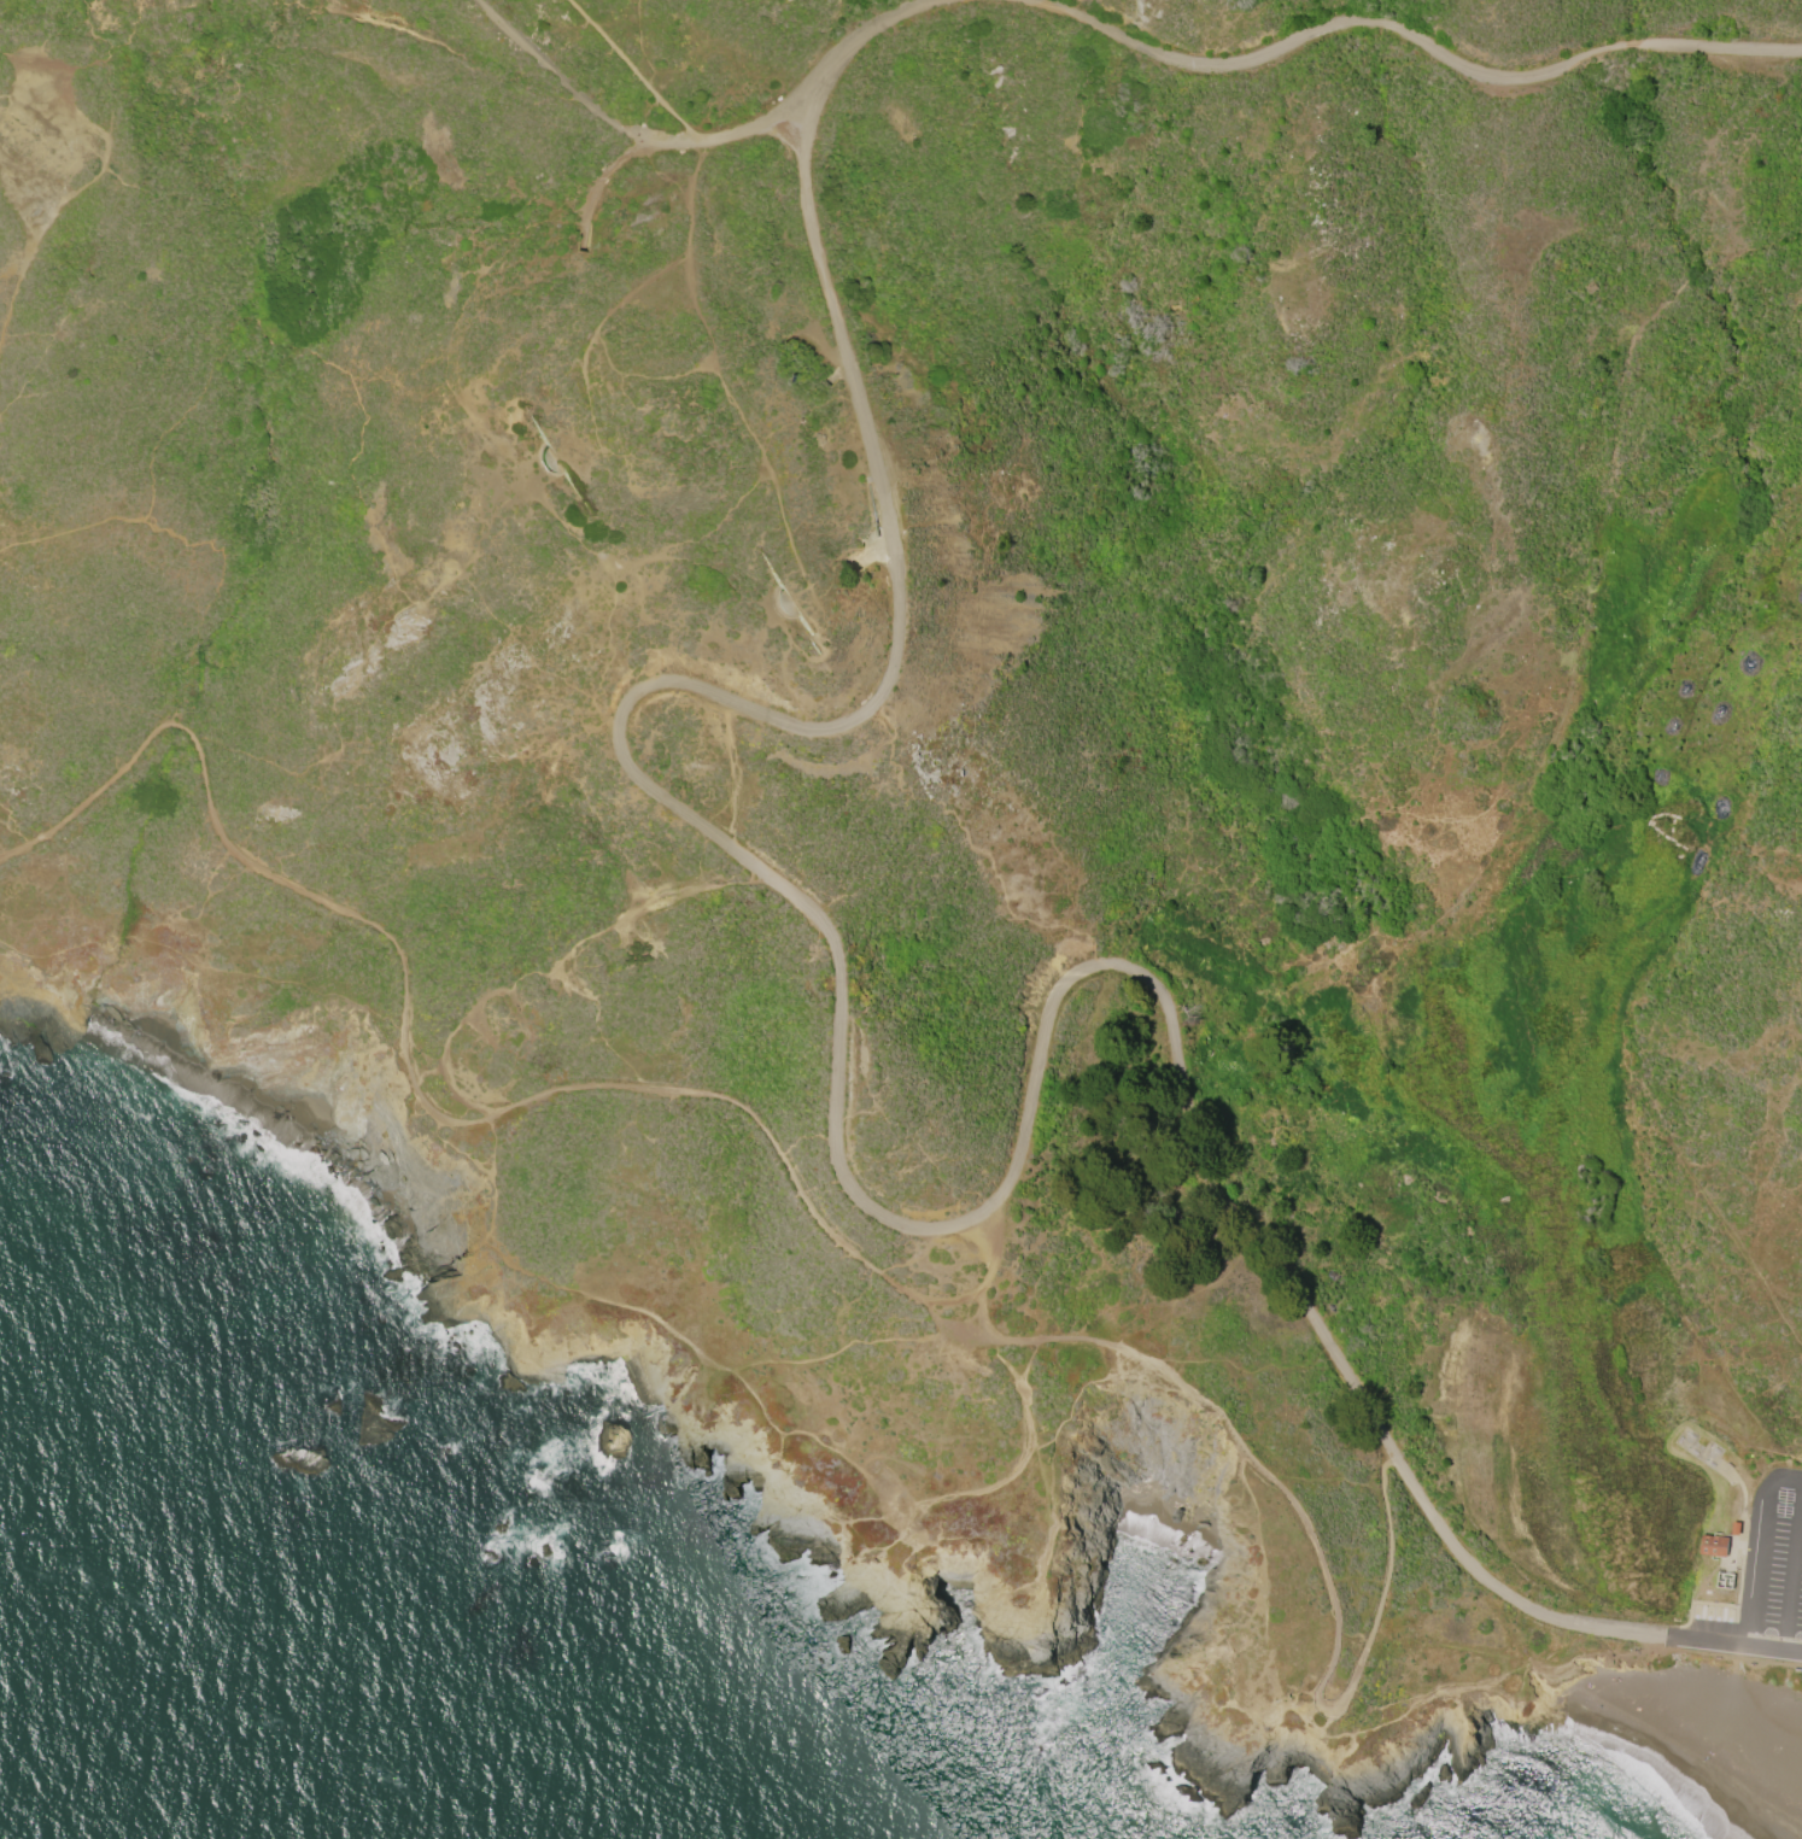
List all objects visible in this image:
road: (853, 46)
road: (1194, 63)
road: (1572, 63)
road: (642, 70)
road: (581, 94)
road: (750, 130)
road: (595, 183)
road: (871, 551)
road: (788, 602)
road: (703, 693)
road: (528, 974)
road: (417, 1112)
road: (1245, 1223)
road: (754, 1392)
road: (1766, 1495)
road: (1314, 1530)
building: (1714, 1547)
parking lot: (1769, 1568)
road: (1794, 1574)
road: (1756, 1591)
road: (1708, 1641)
road: (1652, 1648)
road: (1777, 1650)
road: (1732, 1658)

